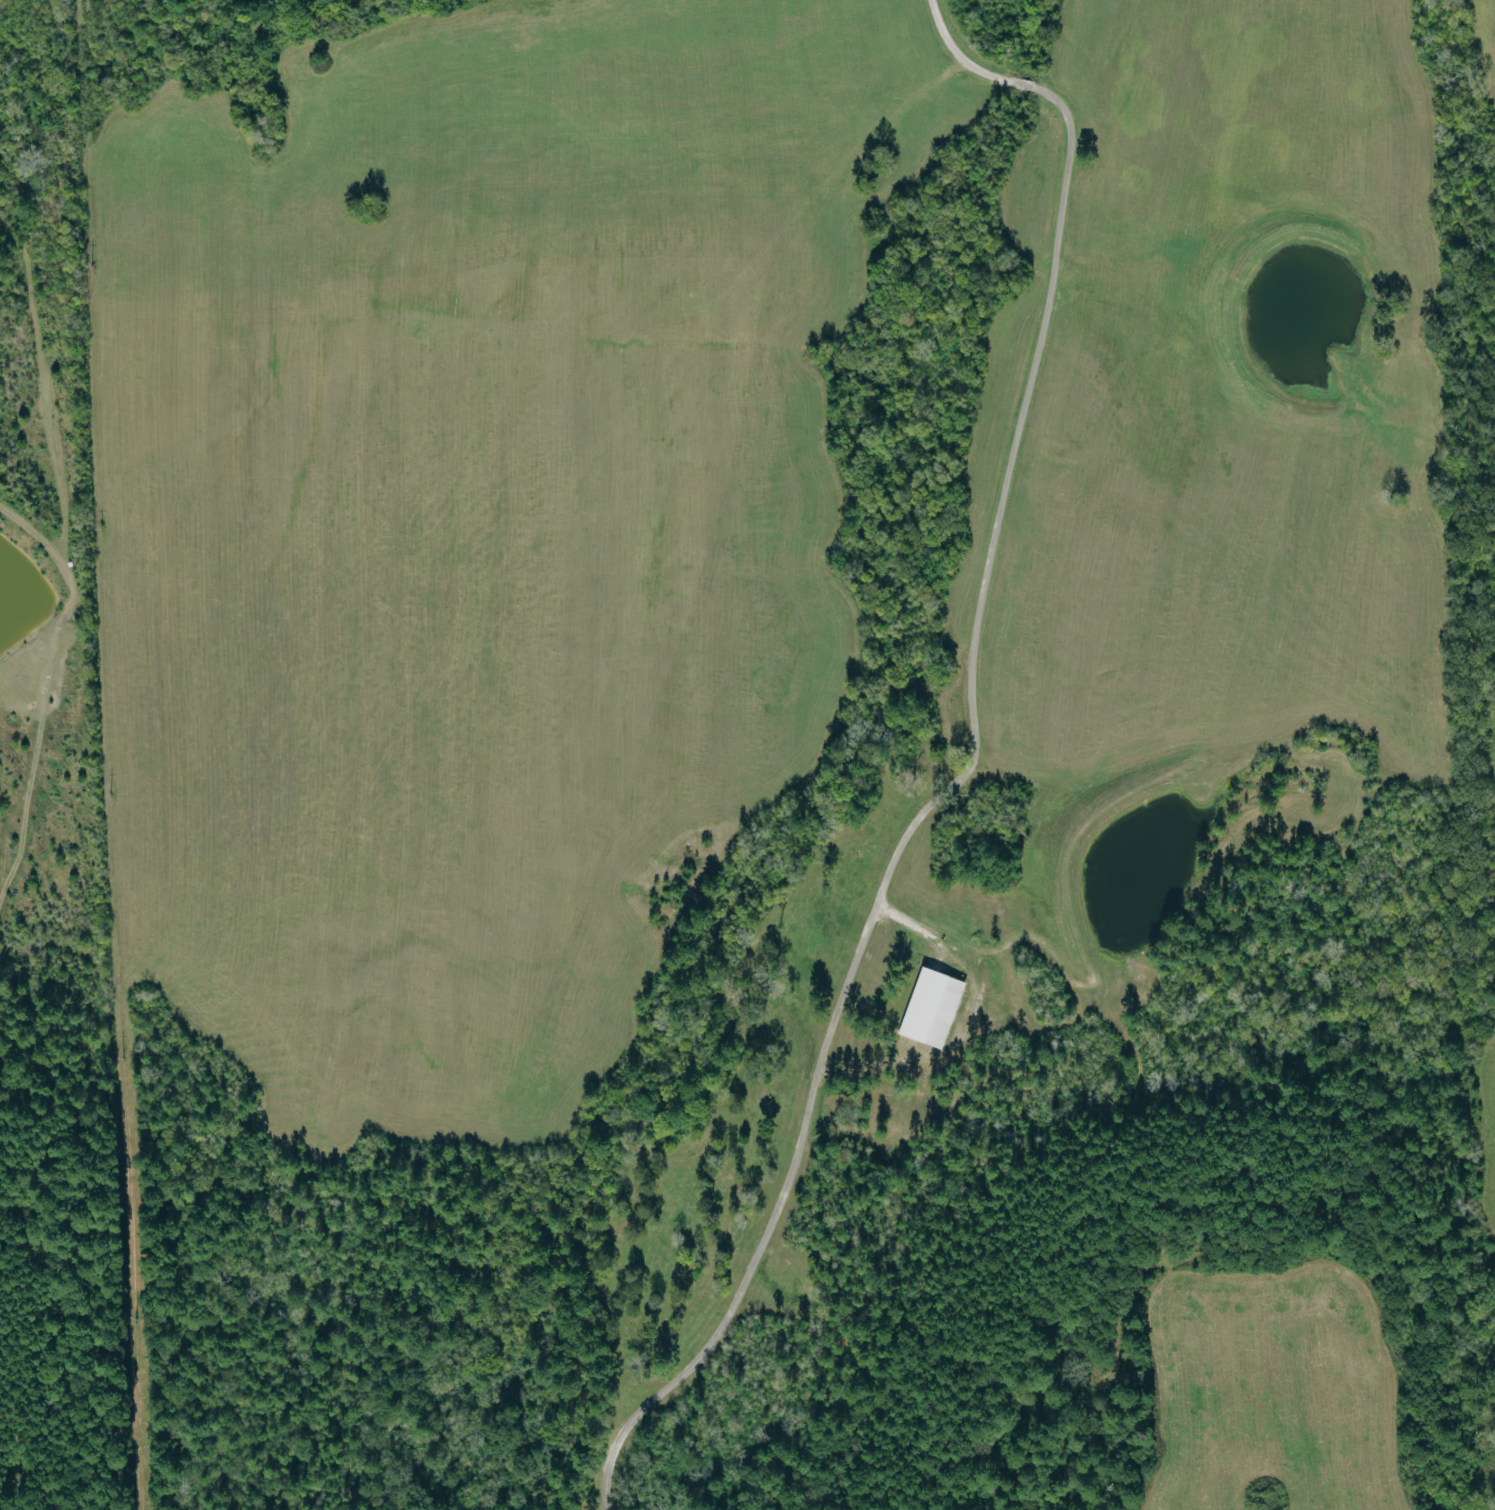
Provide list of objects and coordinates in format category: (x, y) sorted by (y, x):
road: (1291, 127)
road: (1247, 256)
road: (1353, 373)
road: (969, 765)
building: (936, 1008)

